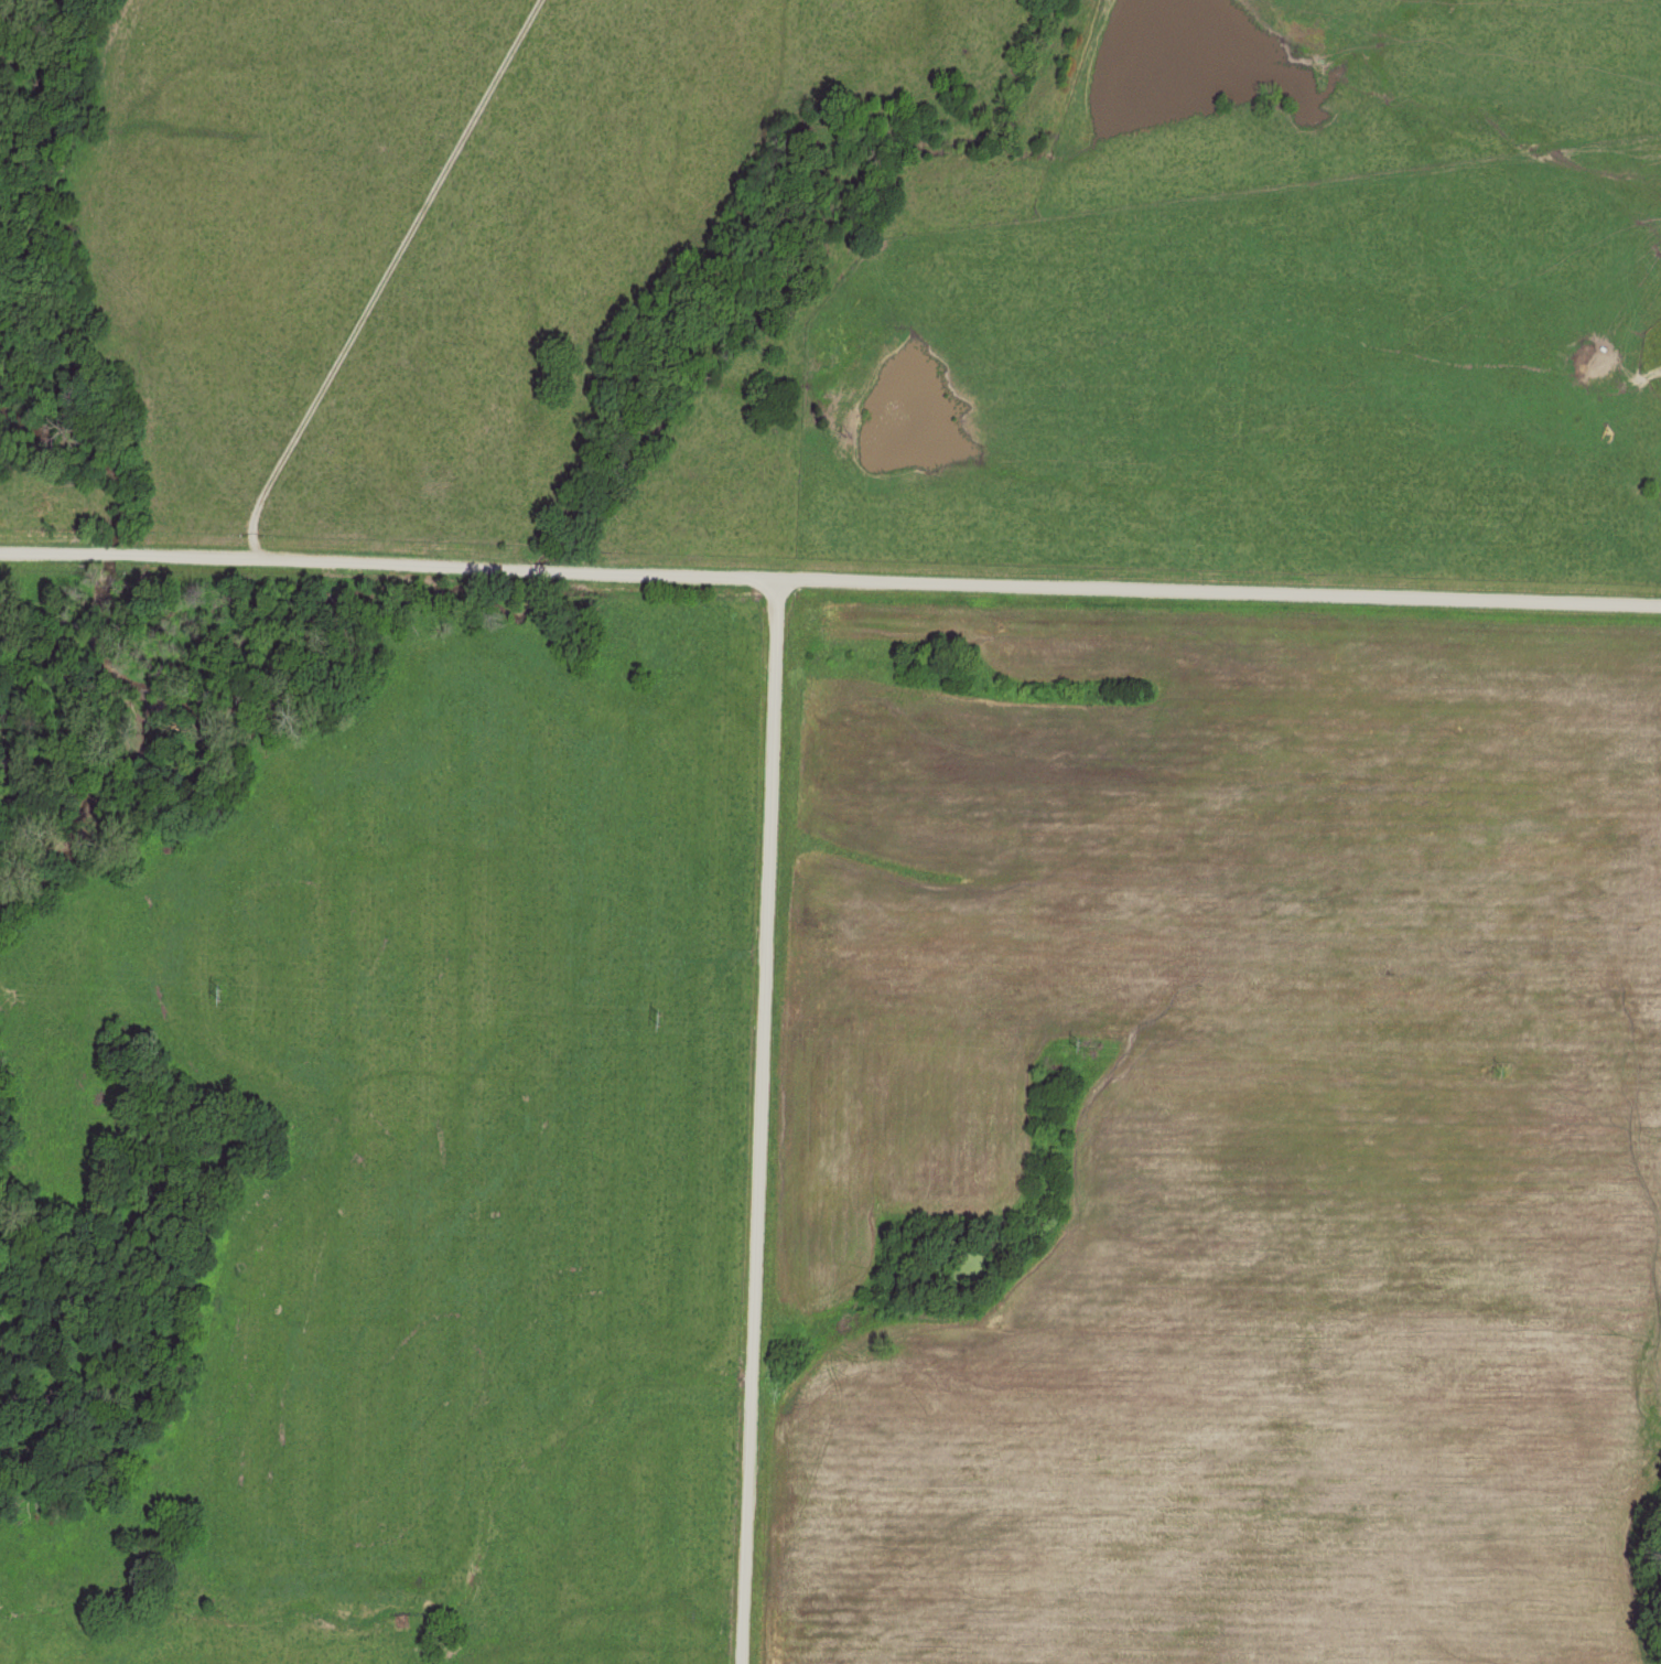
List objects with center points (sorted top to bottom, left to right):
road: (830, 582)
road: (764, 1123)

